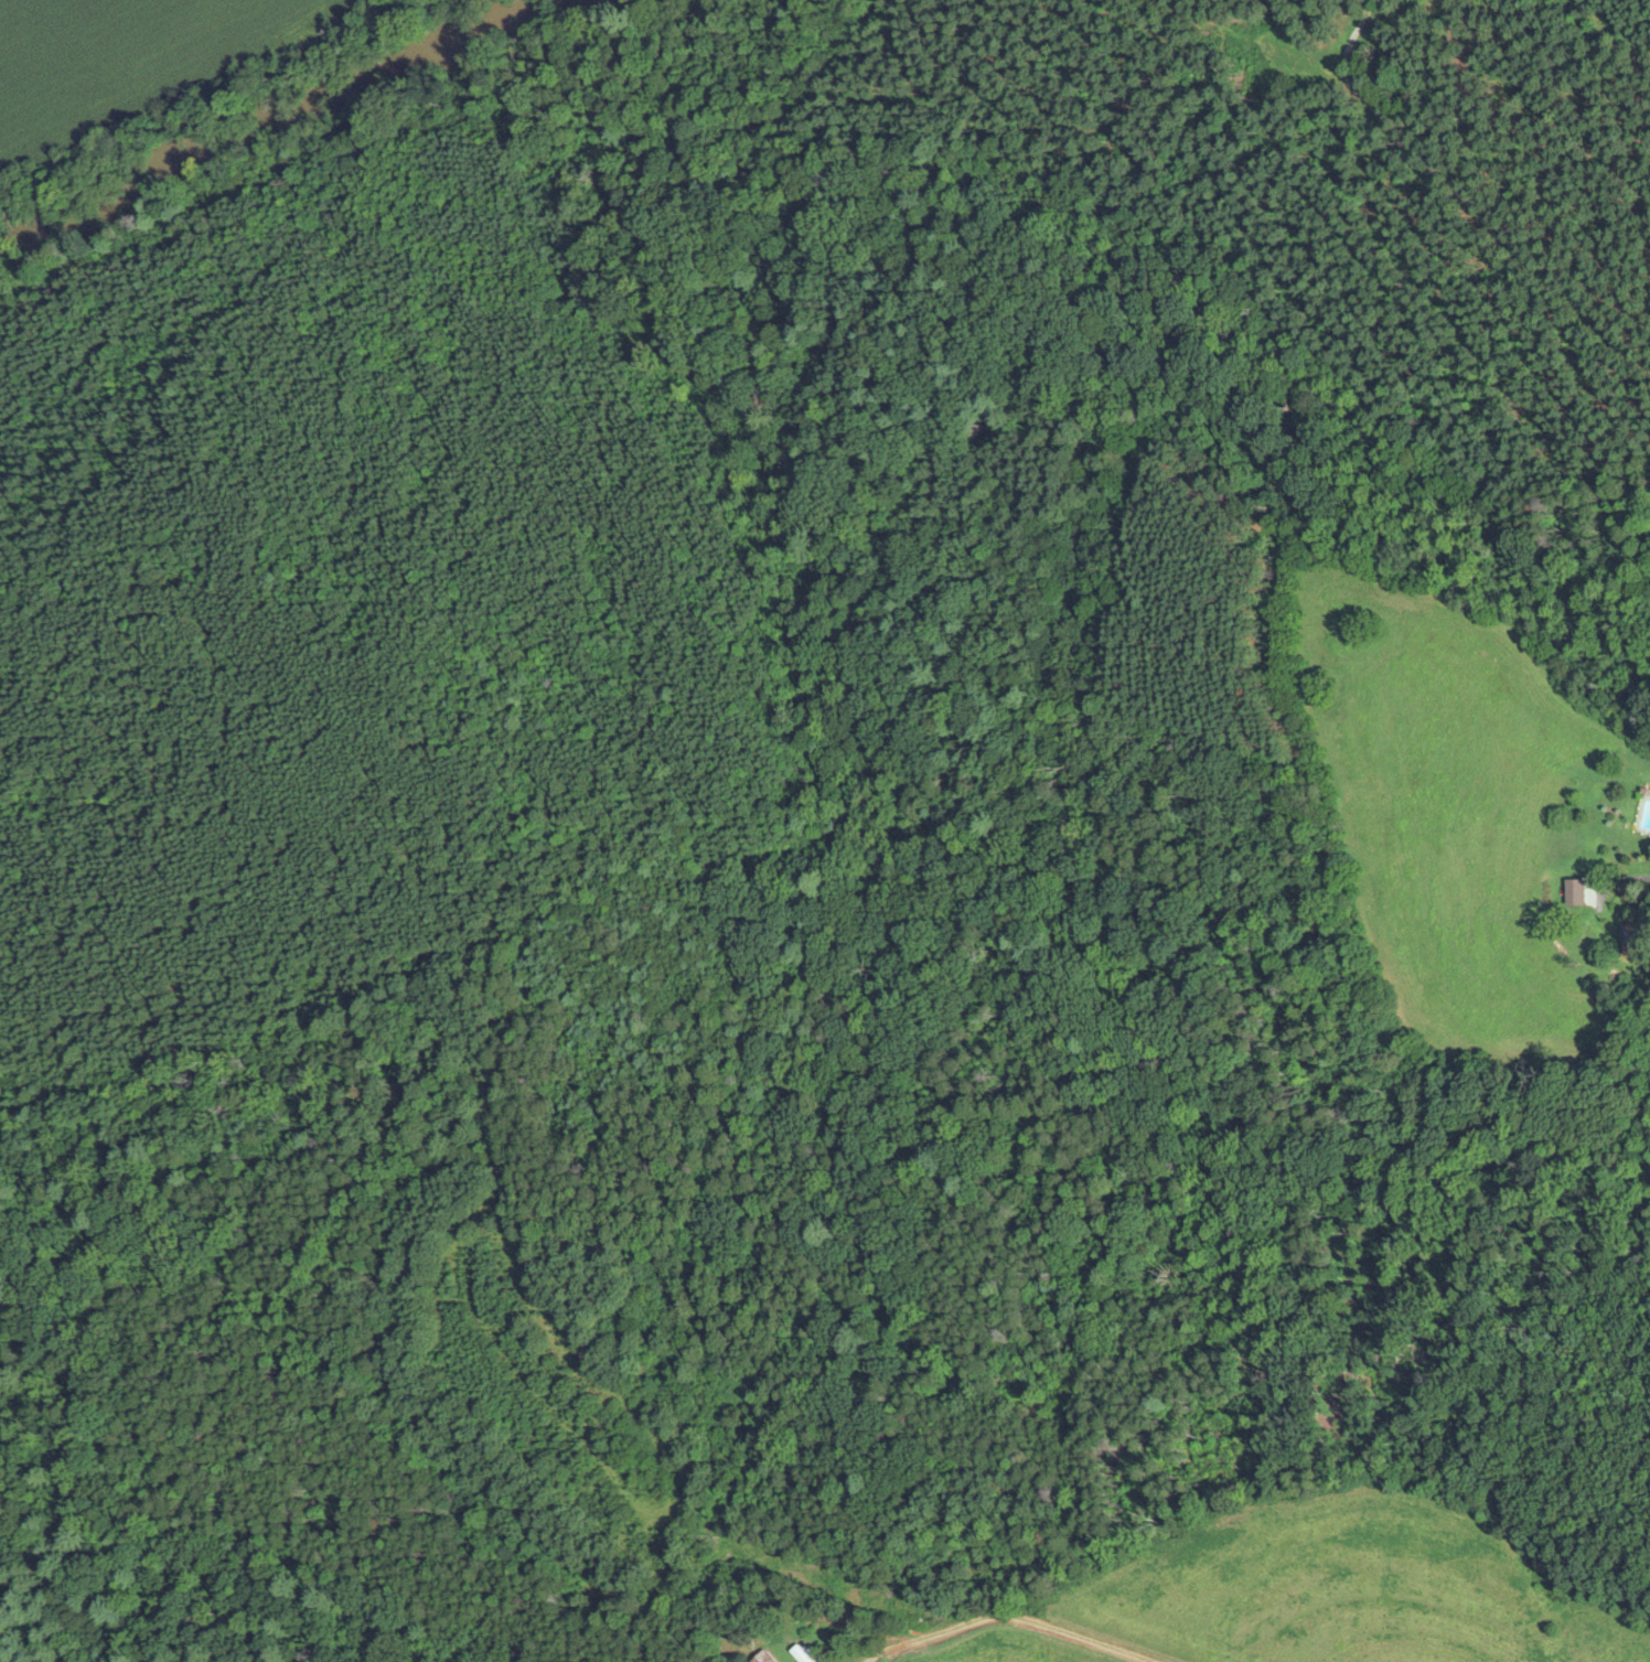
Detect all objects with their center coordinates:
river: (294, 121)
road: (1464, 197)
building: (1637, 939)
road: (1020, 1617)
building: (801, 1654)
building: (763, 1656)

